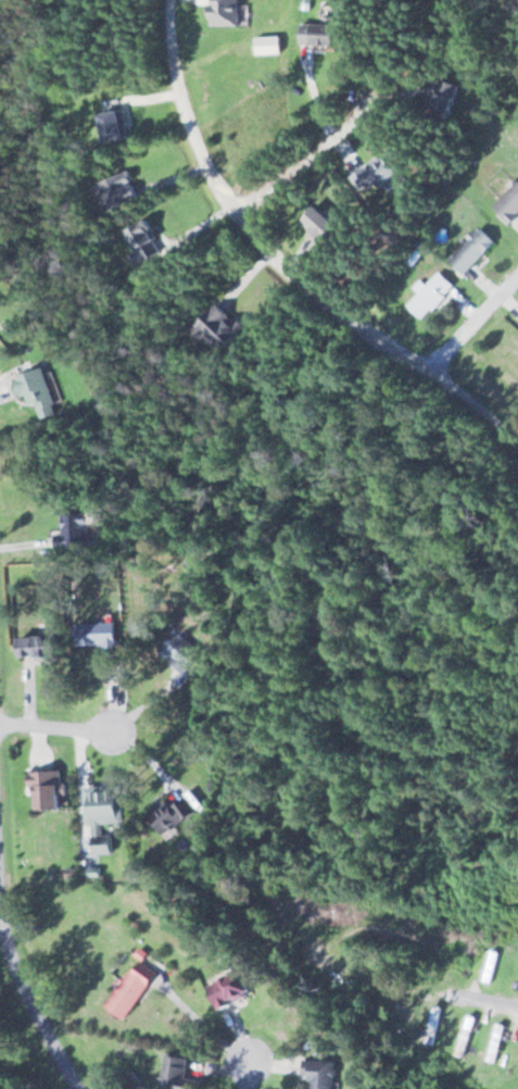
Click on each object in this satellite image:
building: (229, 13)
building: (325, 34)
building: (448, 97)
road: (331, 143)
building: (384, 170)
building: (122, 190)
building: (149, 242)
building: (476, 250)
road: (287, 263)
building: (433, 293)
road: (476, 322)
building: (222, 329)
building: (39, 392)
building: (76, 644)
building: (185, 656)
road: (61, 723)
road: (430, 765)
building: (52, 789)
building: (178, 814)
building: (108, 815)
building: (492, 966)
building: (135, 989)
building: (236, 990)
road: (405, 999)
road: (34, 1001)
building: (467, 1036)
building: (497, 1042)
building: (517, 1065)
building: (176, 1072)
building: (323, 1074)
road: (243, 1076)

